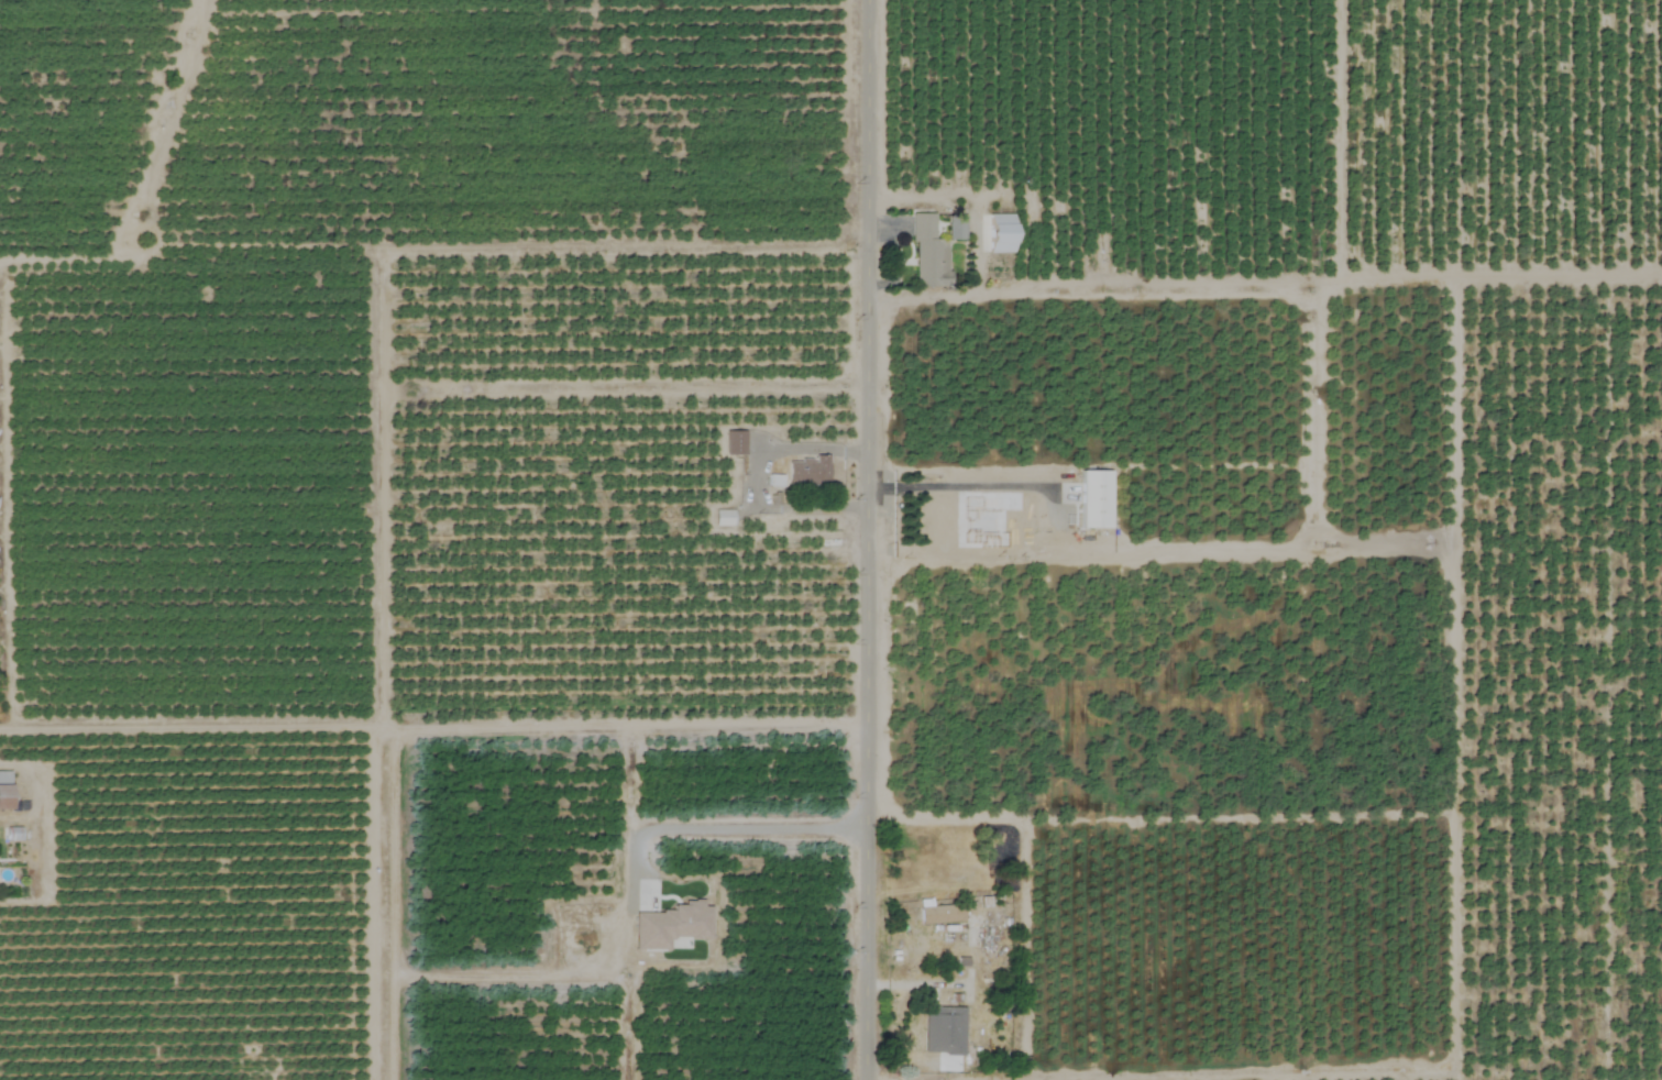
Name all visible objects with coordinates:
building: (997, 233)
road: (551, 247)
building: (929, 249)
road: (977, 253)
road: (453, 382)
building: (733, 442)
road: (771, 448)
road: (856, 449)
building: (805, 471)
building: (1091, 498)
building: (722, 517)
road: (1055, 517)
road: (869, 540)
road: (190, 717)
road: (447, 723)
building: (2, 791)
road: (718, 828)
building: (939, 914)
building: (927, 1031)

